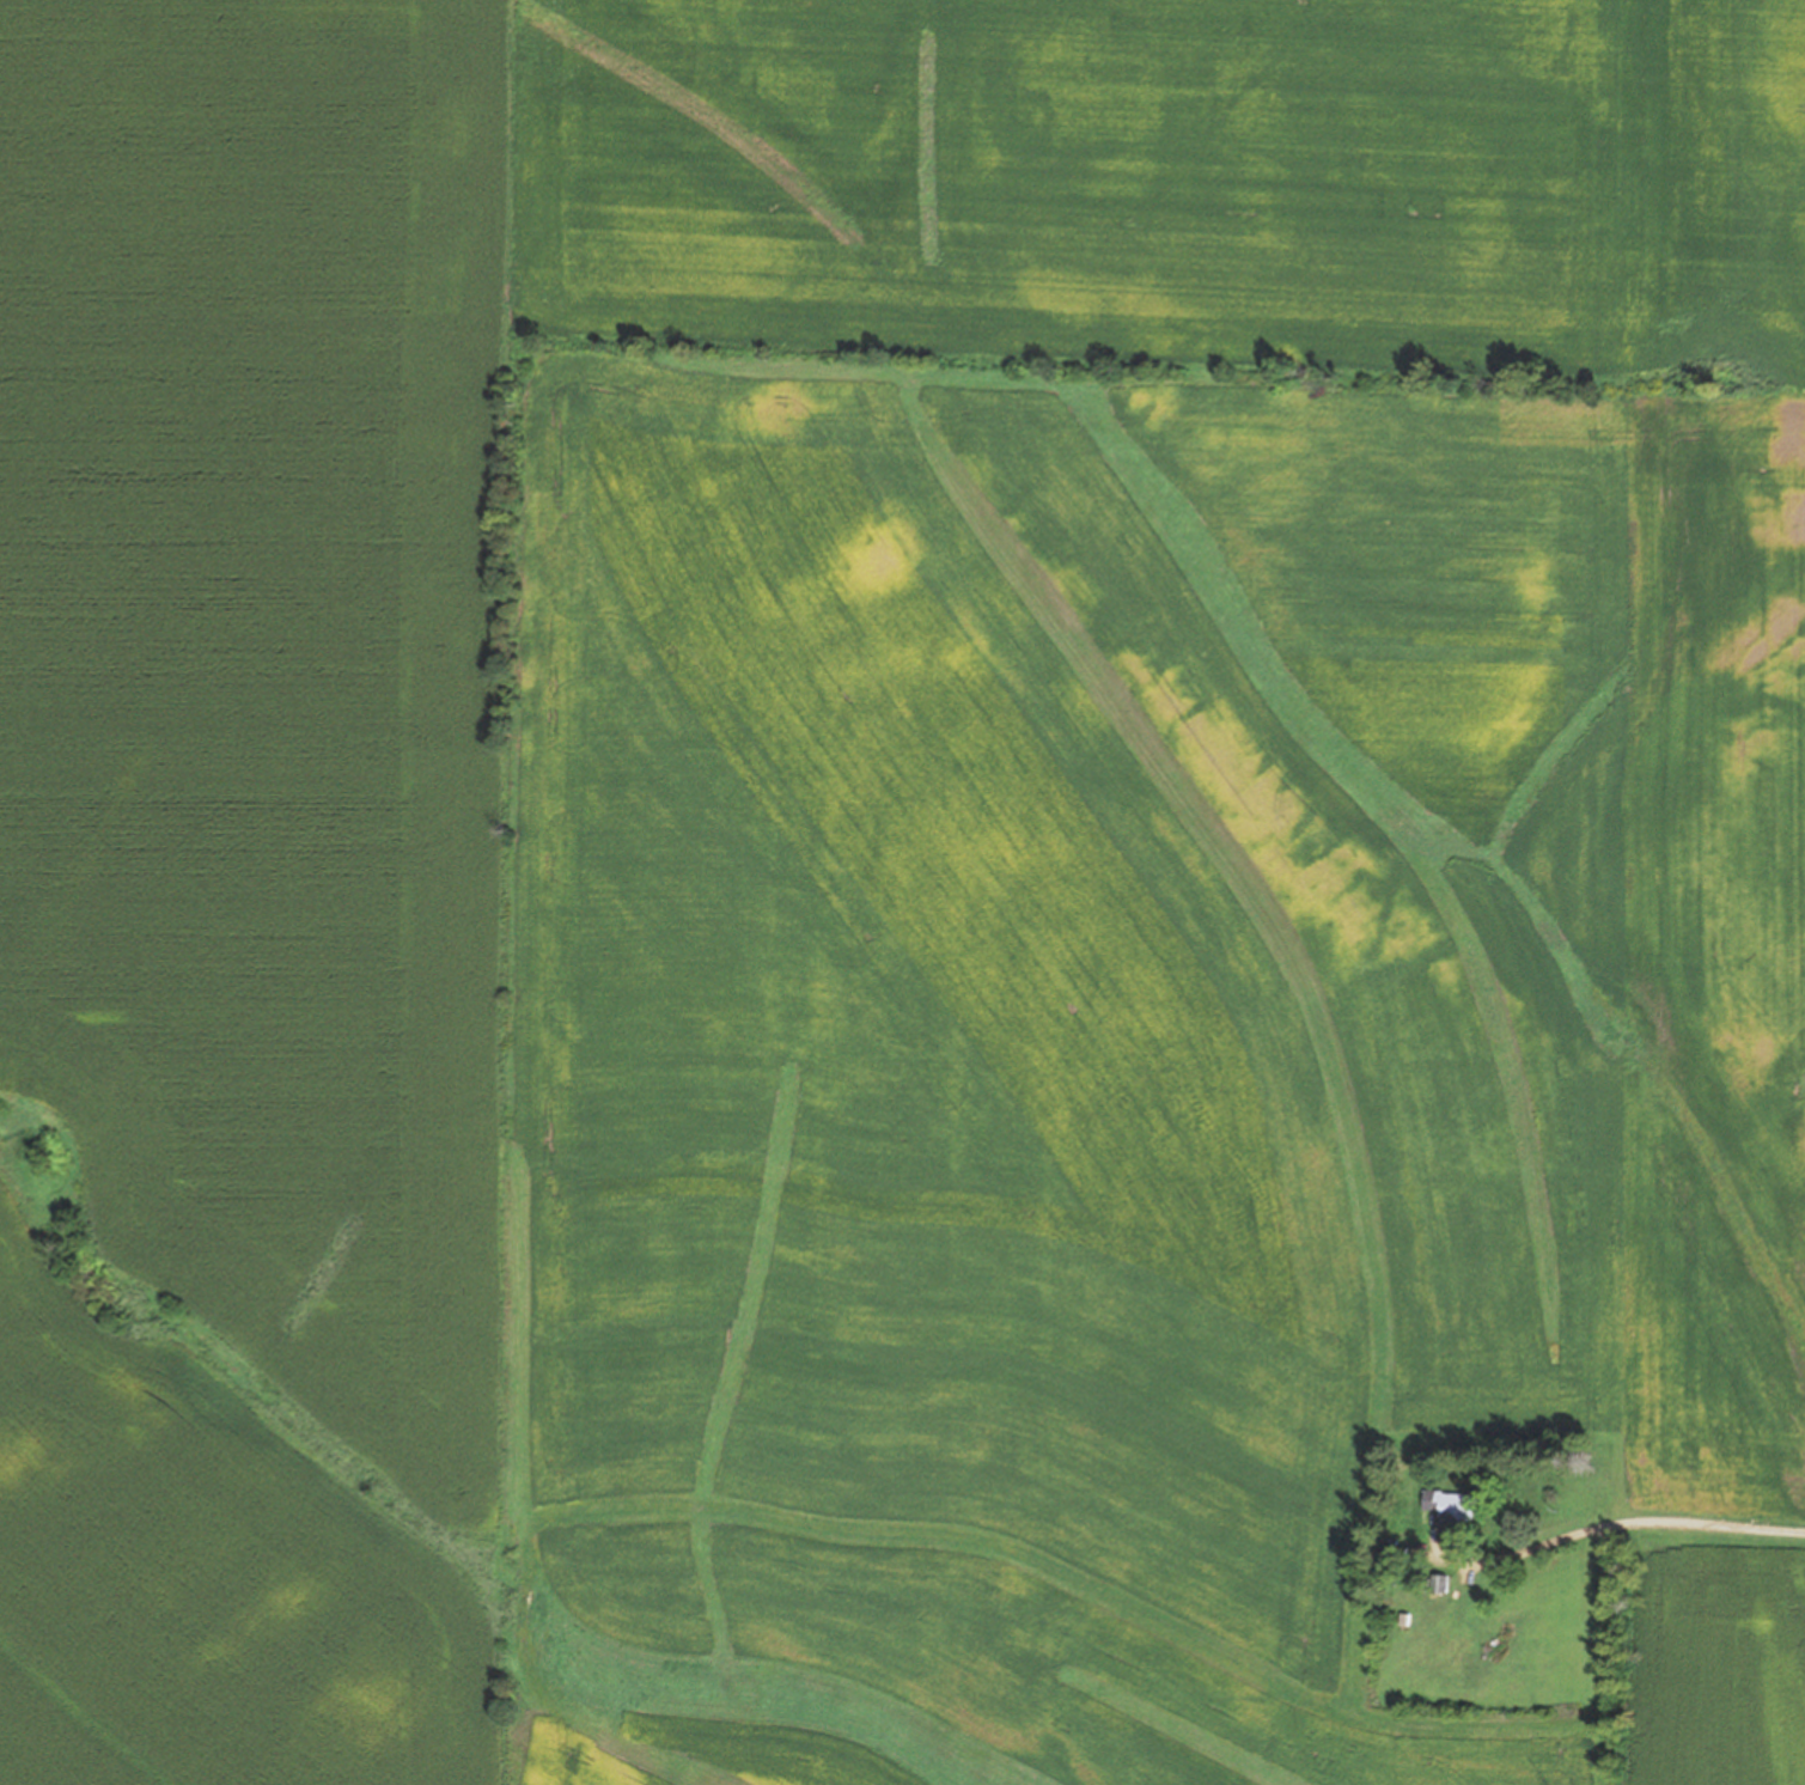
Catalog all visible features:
building: (1456, 1507)
road: (1628, 1525)

